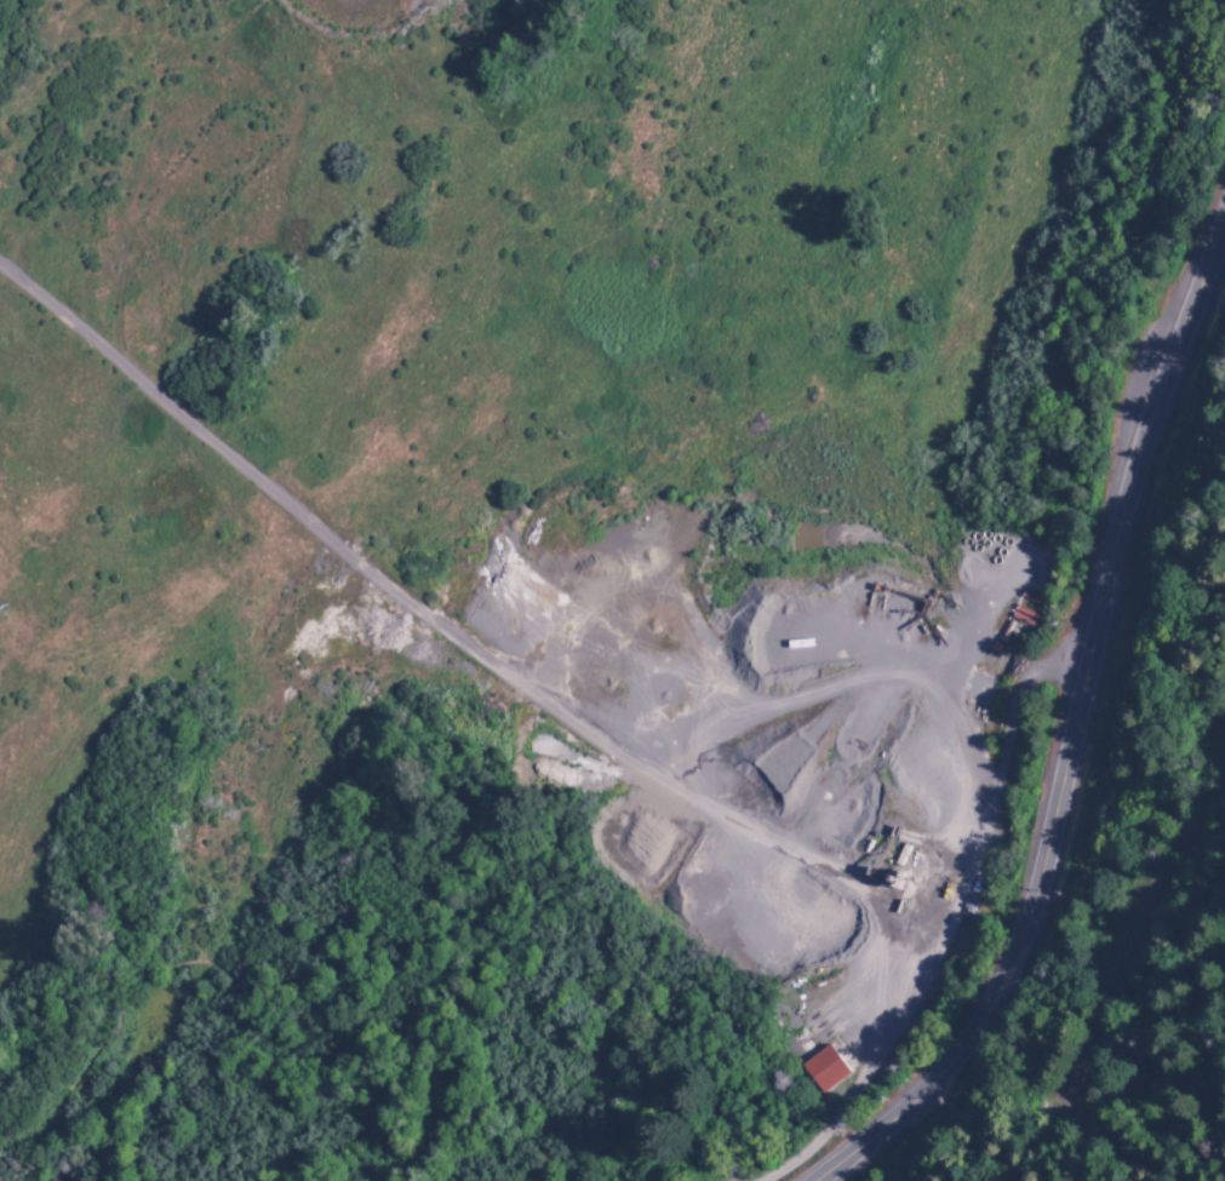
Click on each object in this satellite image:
road: (1071, 727)
building: (826, 1067)

